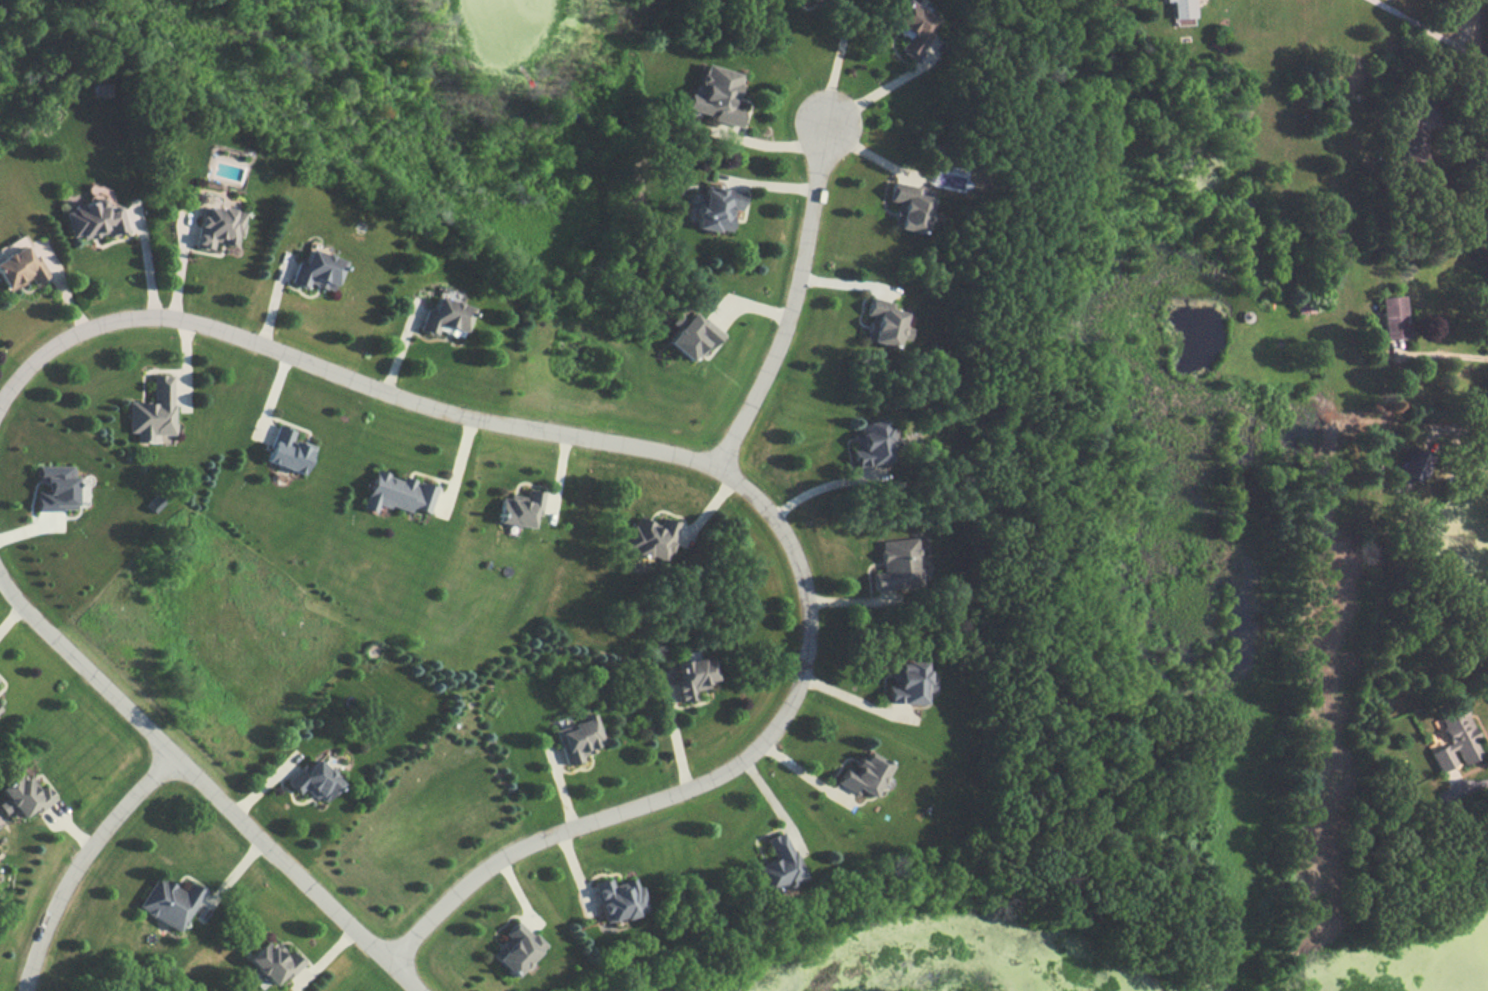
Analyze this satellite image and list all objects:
building: (809, 0)
building: (1179, 9)
road: (1420, 23)
building: (909, 27)
road: (839, 59)
road: (1464, 66)
road: (874, 93)
building: (711, 97)
building: (1412, 136)
building: (712, 209)
building: (906, 209)
building: (91, 221)
building: (213, 229)
building: (17, 266)
building: (311, 273)
road: (794, 300)
building: (437, 318)
building: (1390, 319)
building: (880, 329)
building: (690, 339)
road: (1454, 356)
building: (150, 412)
road: (1466, 429)
building: (869, 441)
building: (1412, 465)
road: (818, 488)
building: (516, 510)
building: (648, 538)
building: (896, 567)
building: (688, 677)
building: (907, 682)
road: (794, 704)
road: (678, 733)
building: (573, 739)
building: (1450, 740)
building: (857, 775)
road: (1470, 786)
building: (20, 796)
road: (81, 860)
building: (773, 864)
building: (612, 898)
building: (165, 902)
building: (510, 950)
building: (268, 964)
road: (400, 976)

